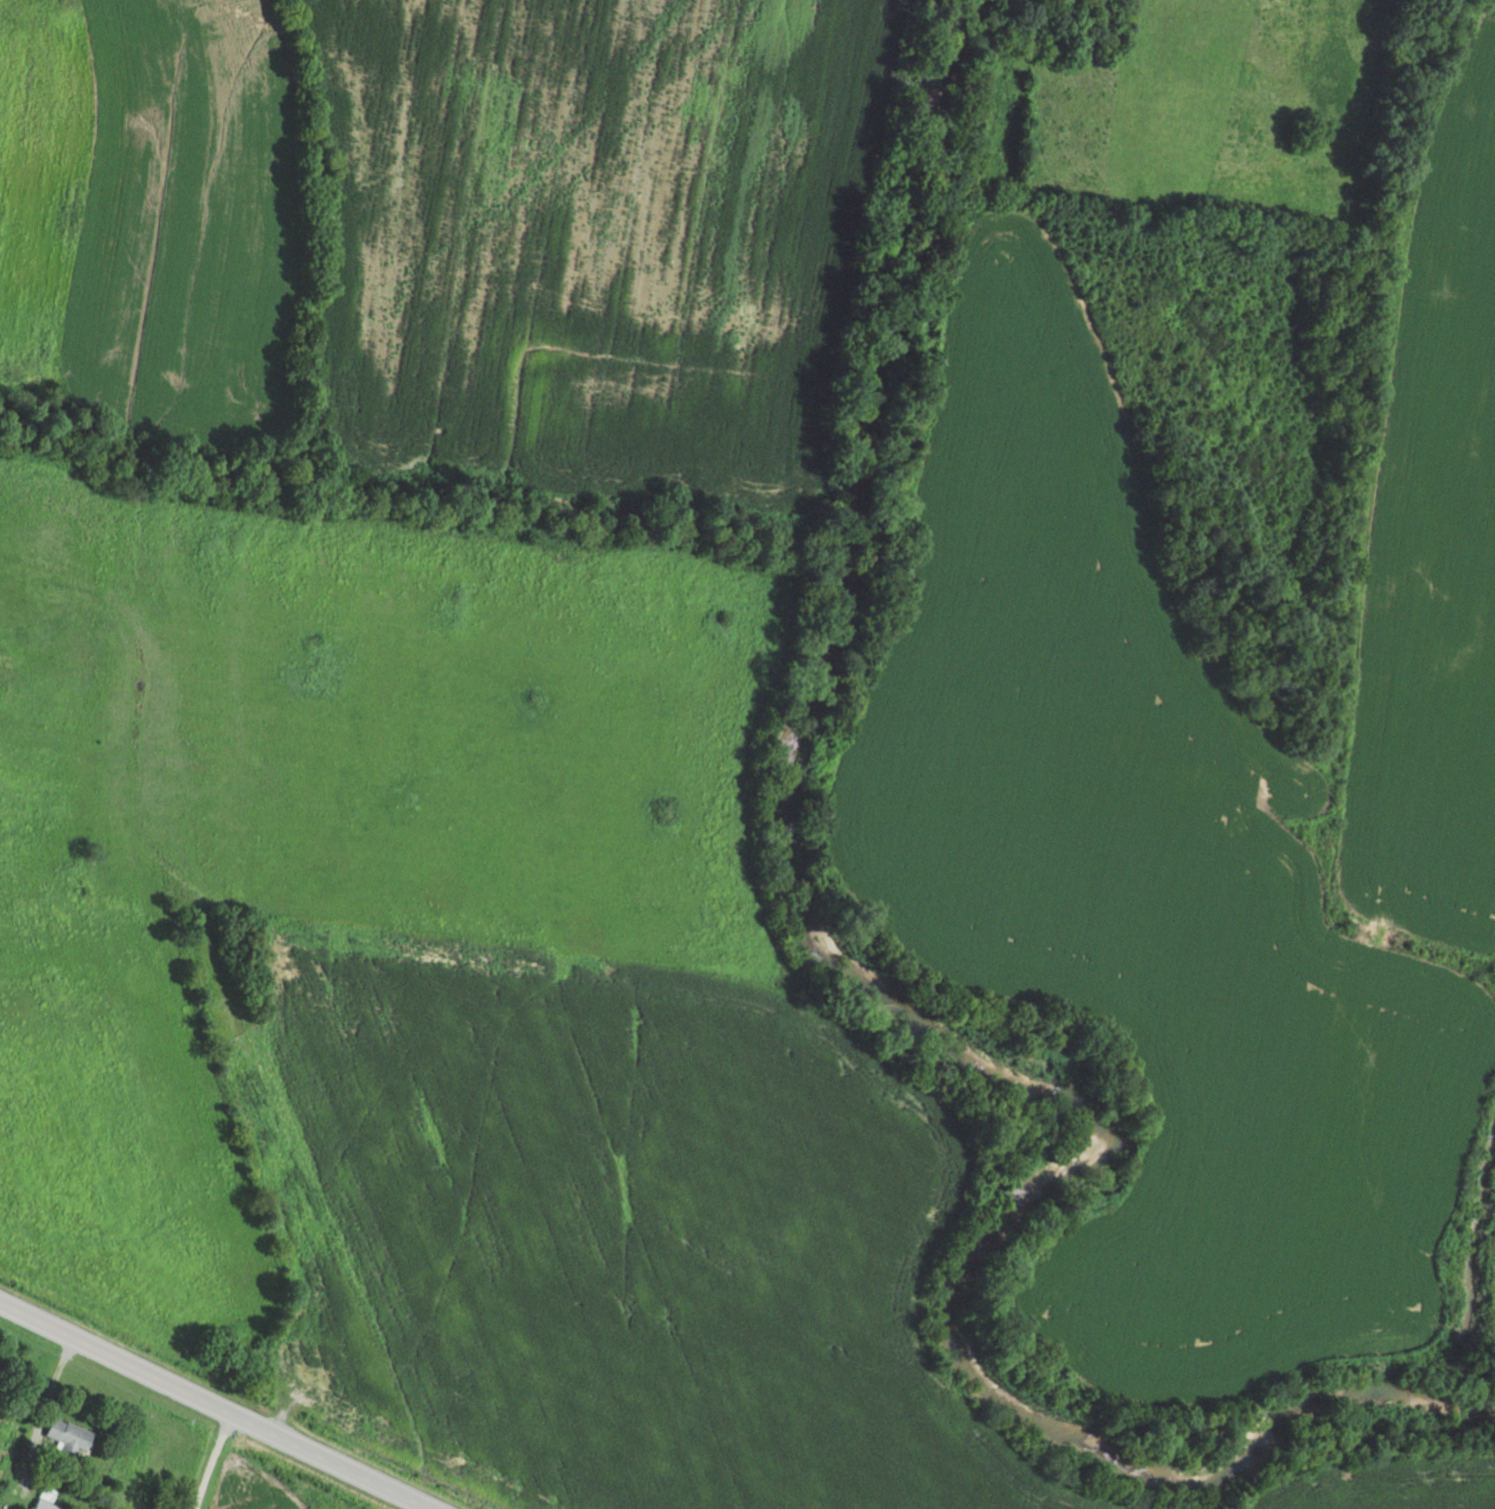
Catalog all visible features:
road: (217, 1404)
building: (72, 1436)
building: (47, 1505)

